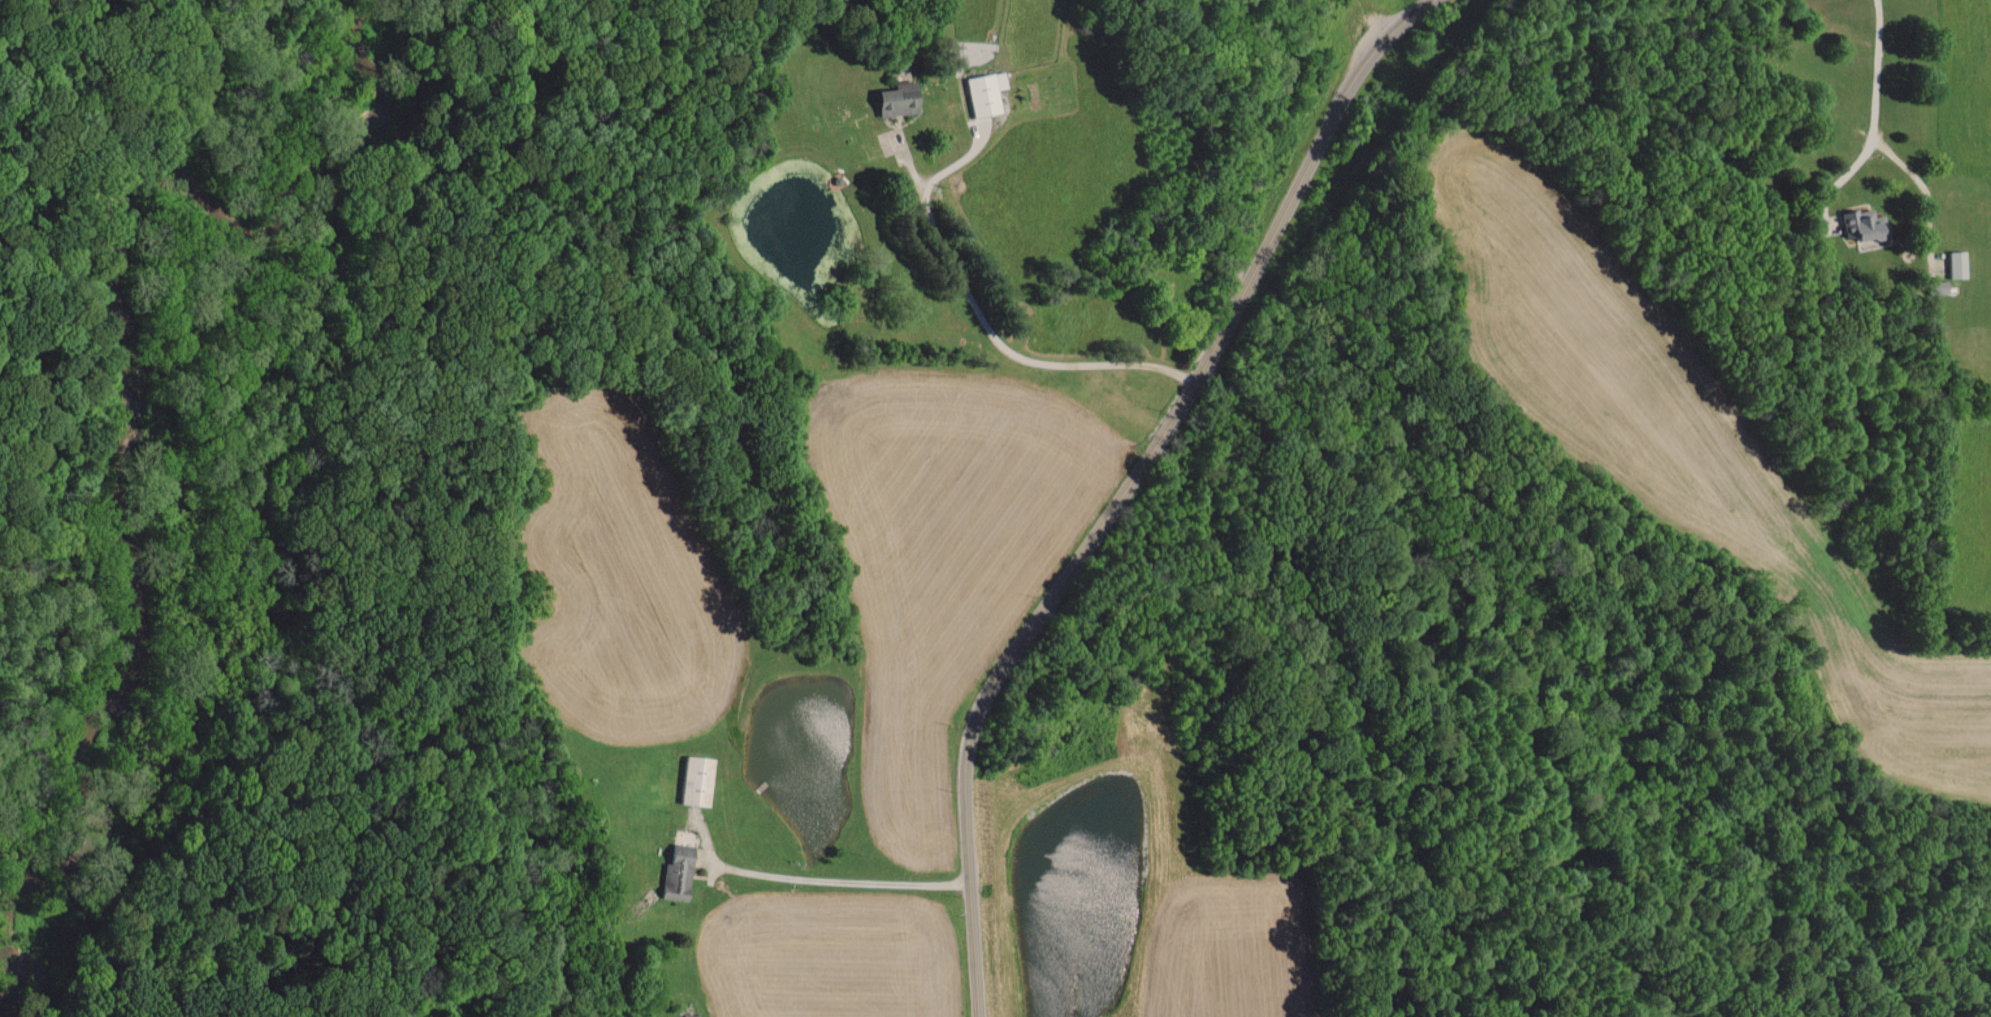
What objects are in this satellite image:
building: (982, 92)
building: (892, 99)
building: (1863, 227)
building: (1955, 264)
building: (1935, 286)
road: (1127, 485)
building: (692, 780)
building: (677, 869)
road: (830, 880)

